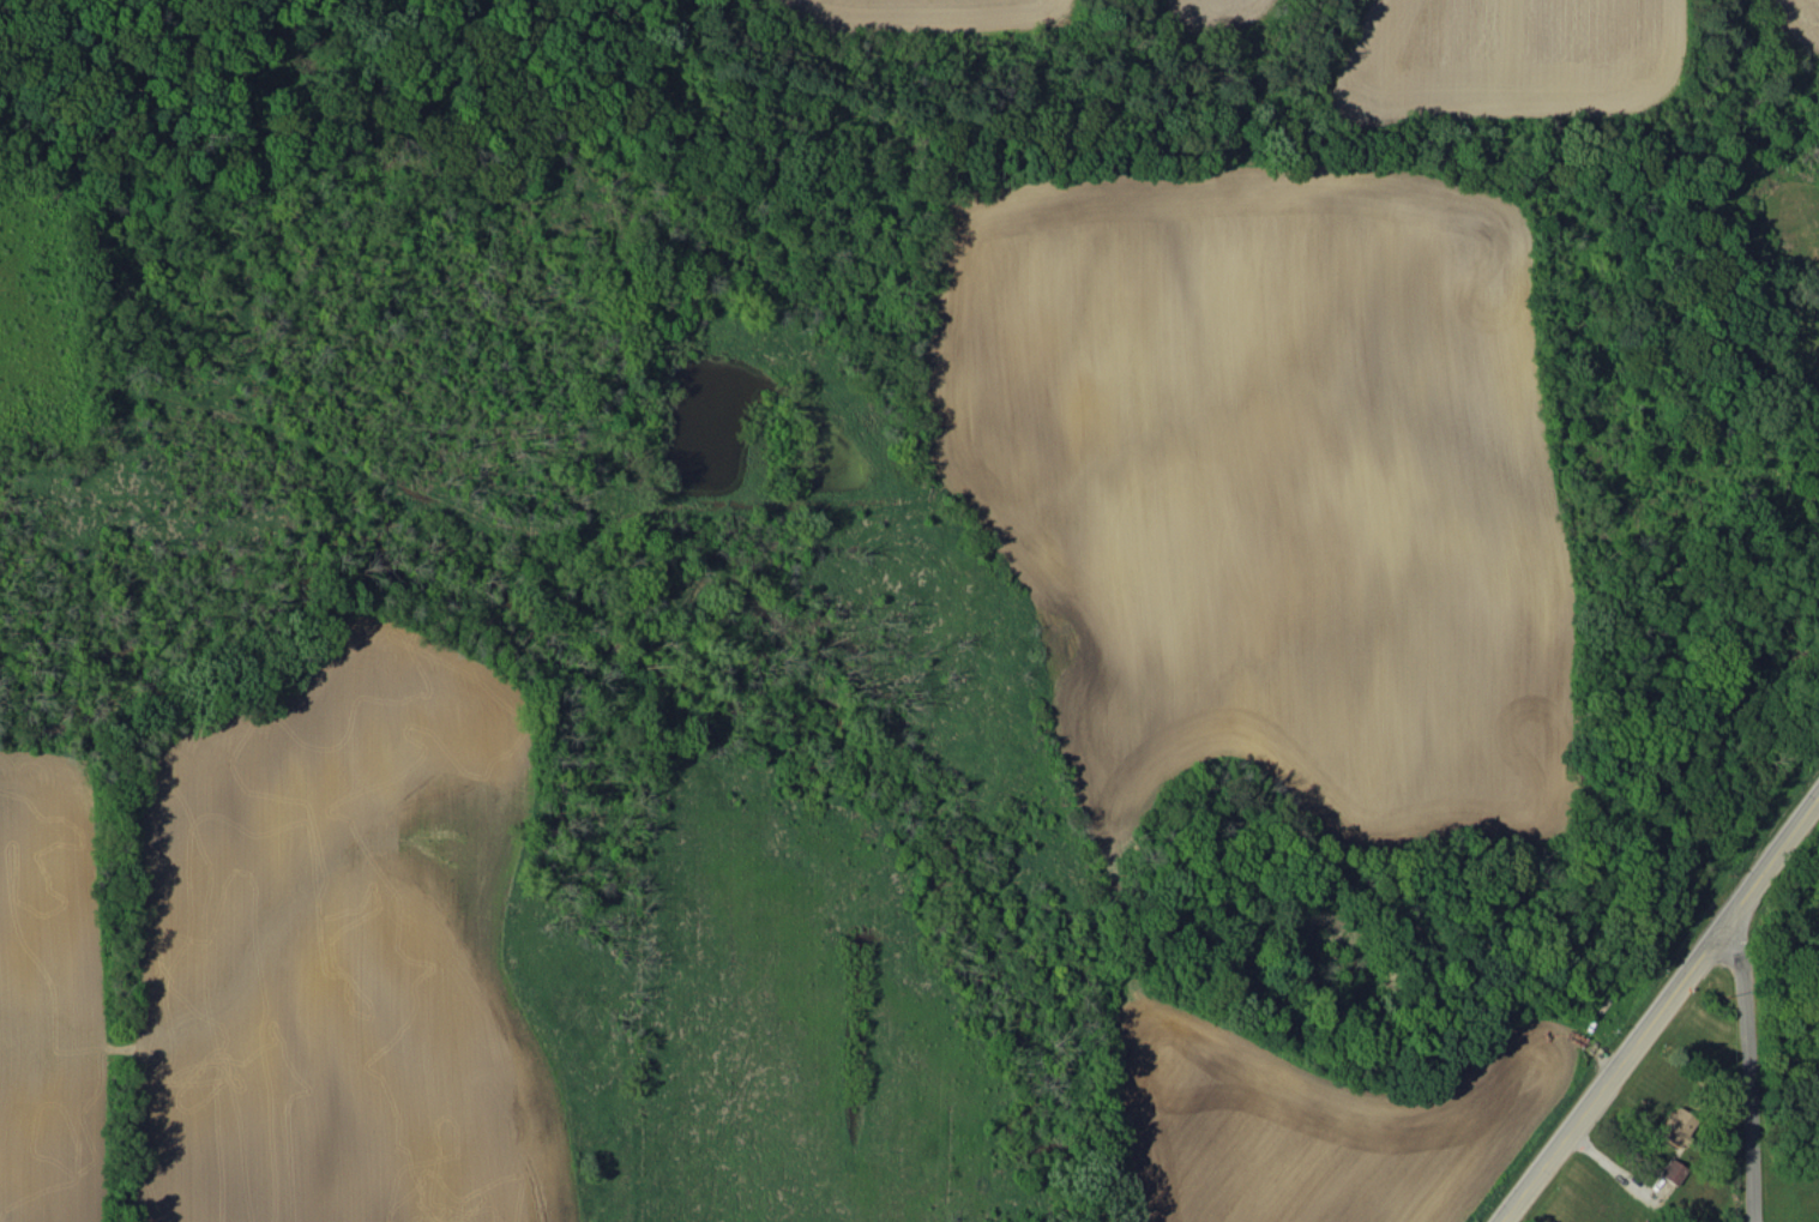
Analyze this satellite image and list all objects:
road: (1661, 1011)
road: (1742, 1066)
building: (1675, 1125)
building: (1670, 1169)

